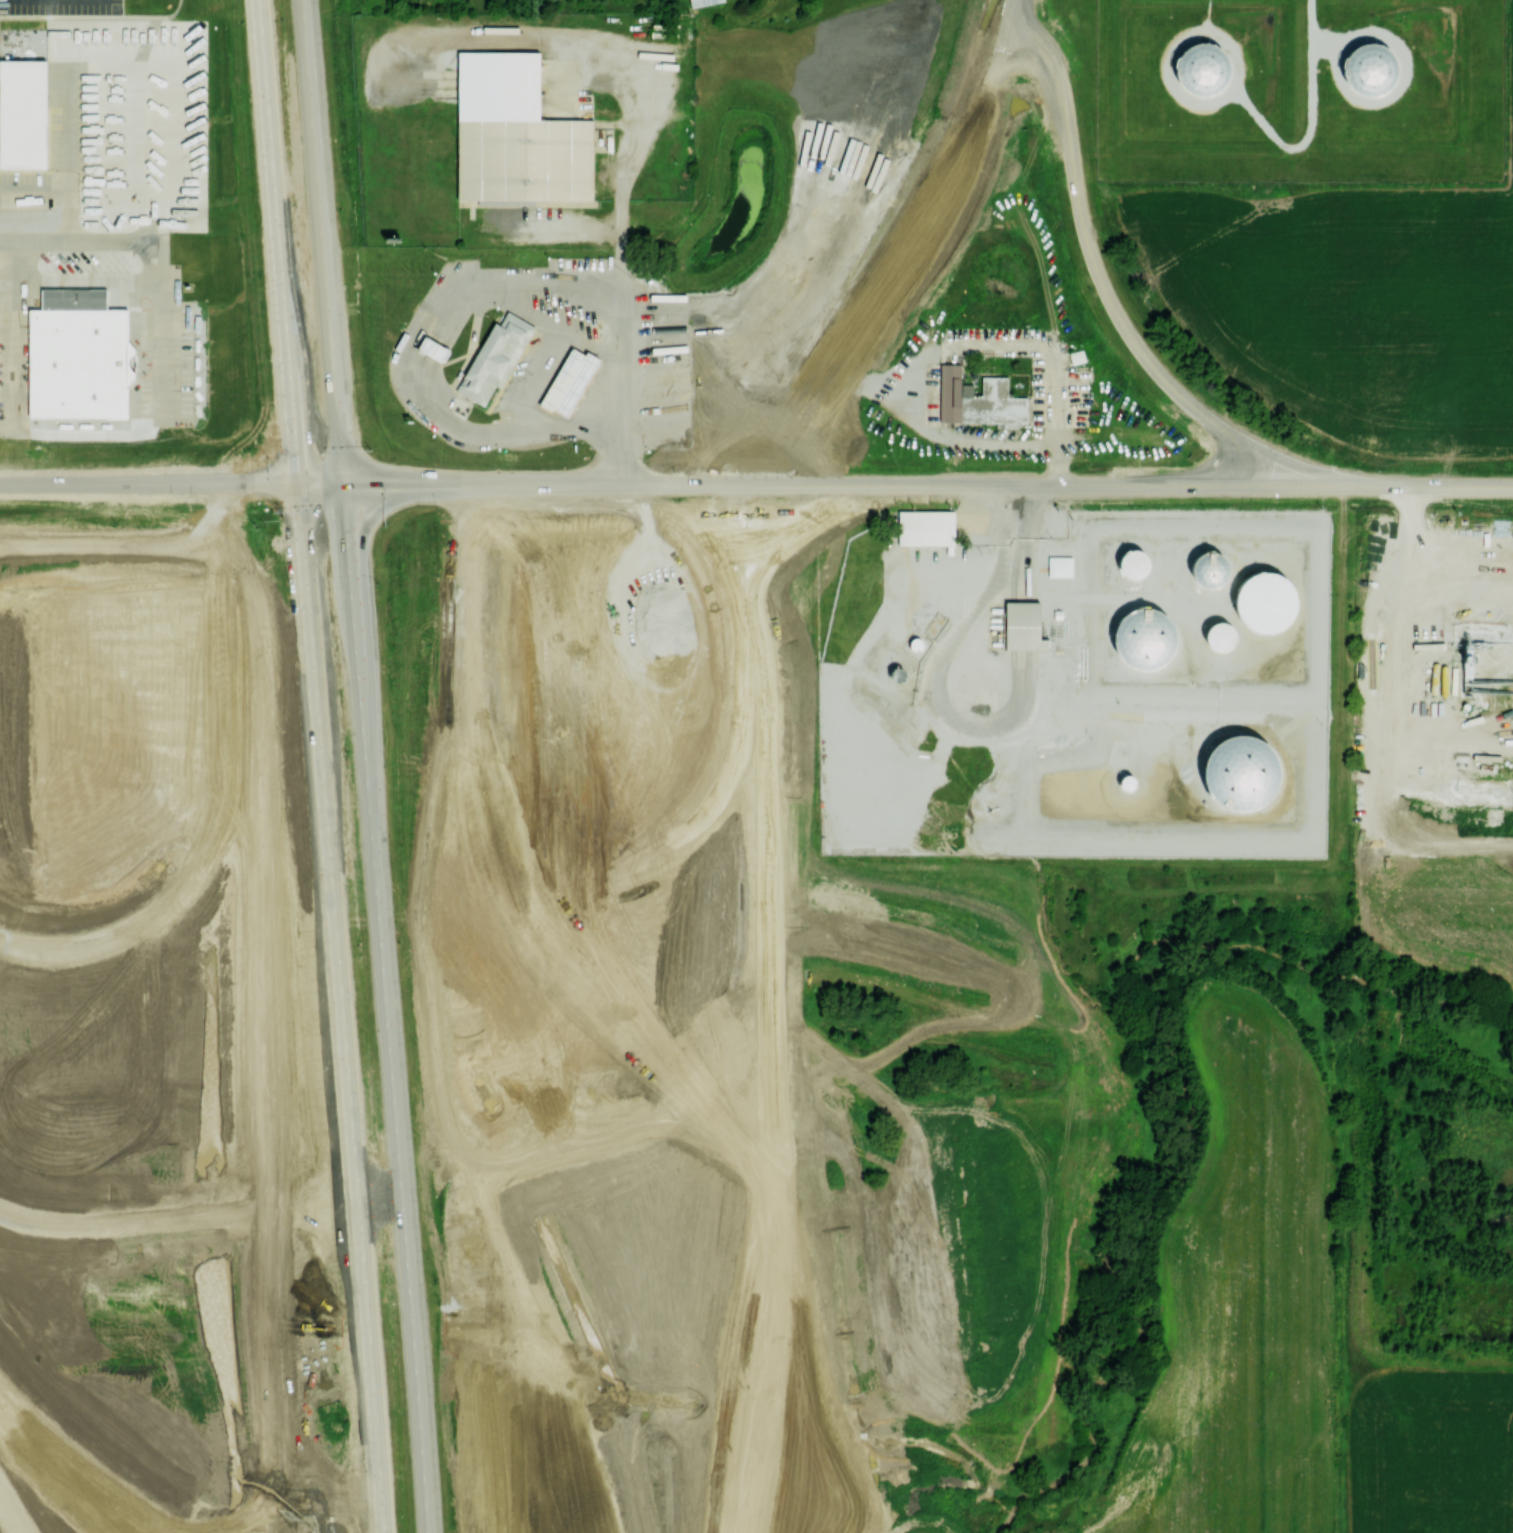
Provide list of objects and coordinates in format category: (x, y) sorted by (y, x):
building: (702, 2)
road: (616, 51)
building: (1202, 69)
building: (1368, 69)
road: (309, 81)
building: (23, 113)
building: (515, 135)
road: (958, 162)
road: (562, 225)
road: (288, 269)
road: (323, 275)
building: (433, 348)
gas station: (433, 348)
building: (89, 349)
building: (1076, 356)
building: (494, 357)
road: (820, 372)
road: (833, 378)
building: (569, 381)
gas station: (569, 381)
building: (978, 399)
road: (705, 406)
road: (693, 414)
road: (335, 430)
road: (706, 430)
road: (476, 431)
road: (609, 465)
road: (937, 471)
road: (530, 481)
road: (1288, 485)
road: (940, 490)
road: (299, 492)
road: (534, 501)
road: (301, 502)
road: (116, 504)
road: (117, 514)
road: (304, 516)
building: (925, 527)
road: (346, 528)
road: (118, 530)
building: (1060, 565)
building: (1265, 601)
building: (1024, 626)
building: (557, 644)
building: (480, 712)
road: (249, 744)
building: (1240, 771)
road: (765, 872)
road: (429, 883)
road: (606, 885)
building: (531, 1020)
building: (676, 1075)
building: (526, 1143)
building: (538, 1234)
road: (535, 1357)
road: (764, 1372)
building: (721, 1458)
road: (10, 1514)

